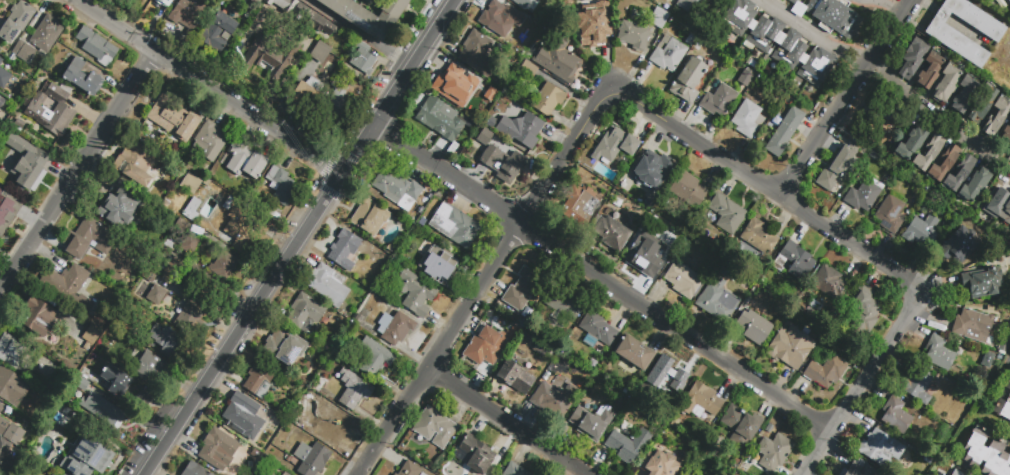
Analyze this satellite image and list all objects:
building: (513, 0)
building: (257, 1)
building: (163, 2)
building: (368, 2)
building: (793, 2)
building: (1008, 2)
building: (283, 4)
building: (668, 5)
road: (889, 5)
building: (694, 7)
building: (187, 13)
building: (302, 14)
building: (367, 15)
building: (833, 16)
building: (501, 18)
building: (659, 18)
building: (17, 23)
building: (323, 25)
road: (431, 29)
building: (592, 31)
building: (217, 32)
road: (356, 33)
road: (818, 34)
building: (633, 35)
building: (948, 38)
building: (777, 41)
building: (38, 43)
building: (97, 49)
building: (475, 50)
building: (320, 52)
building: (668, 54)
building: (266, 58)
building: (362, 58)
building: (557, 58)
building: (912, 58)
building: (0, 60)
building: (752, 63)
building: (1, 64)
building: (526, 71)
building: (928, 71)
building: (745, 78)
building: (689, 79)
building: (4, 80)
building: (83, 80)
building: (944, 84)
road: (209, 85)
building: (459, 87)
road: (392, 88)
building: (963, 94)
building: (307, 95)
building: (548, 99)
building: (0, 100)
building: (718, 100)
road: (850, 100)
building: (337, 103)
building: (981, 105)
road: (936, 109)
building: (53, 111)
building: (873, 112)
building: (1009, 115)
building: (996, 116)
building: (746, 119)
building: (175, 121)
building: (440, 121)
building: (20, 125)
building: (521, 130)
building: (784, 132)
building: (552, 133)
building: (1006, 134)
building: (211, 143)
building: (616, 144)
building: (910, 144)
building: (873, 153)
building: (928, 154)
building: (139, 159)
building: (247, 162)
building: (943, 163)
building: (501, 164)
building: (27, 165)
building: (652, 167)
building: (835, 168)
road: (78, 169)
building: (959, 174)
road: (1008, 183)
building: (280, 185)
building: (190, 186)
building: (974, 186)
building: (395, 187)
building: (150, 188)
building: (688, 189)
road: (768, 189)
building: (863, 195)
building: (578, 204)
building: (998, 204)
building: (7, 209)
building: (119, 209)
building: (607, 211)
building: (193, 212)
building: (727, 213)
building: (889, 214)
building: (371, 219)
building: (245, 227)
building: (456, 228)
building: (921, 231)
building: (611, 233)
building: (758, 236)
building: (92, 239)
building: (959, 245)
building: (190, 246)
building: (169, 249)
building: (346, 252)
building: (644, 256)
building: (793, 260)
building: (439, 266)
building: (225, 268)
building: (171, 274)
road: (482, 279)
building: (683, 280)
road: (599, 281)
building: (830, 282)
building: (983, 282)
building: (328, 287)
building: (521, 289)
building: (67, 291)
building: (206, 294)
building: (416, 295)
road: (260, 296)
building: (157, 297)
building: (716, 300)
building: (561, 305)
building: (815, 305)
building: (989, 308)
building: (808, 310)
building: (864, 311)
building: (306, 313)
building: (166, 314)
building: (38, 319)
building: (190, 321)
building: (384, 323)
building: (973, 326)
building: (753, 327)
building: (936, 327)
building: (598, 328)
building: (399, 331)
building: (93, 337)
building: (162, 342)
building: (482, 347)
building: (791, 347)
building: (285, 348)
building: (633, 352)
building: (938, 353)
building: (13, 355)
building: (375, 359)
building: (147, 367)
building: (825, 371)
building: (669, 372)
building: (515, 377)
building: (945, 377)
building: (261, 380)
building: (117, 382)
road: (862, 383)
building: (935, 383)
building: (1007, 383)
building: (917, 385)
building: (12, 389)
building: (355, 391)
building: (553, 398)
building: (145, 399)
building: (701, 399)
building: (1, 405)
building: (1002, 407)
building: (1, 409)
building: (101, 410)
building: (242, 415)
building: (895, 416)
building: (592, 422)
road: (506, 423)
building: (739, 425)
building: (335, 428)
building: (436, 430)
building: (10, 434)
building: (627, 445)
building: (880, 448)
building: (4, 450)
building: (215, 450)
building: (774, 451)
building: (986, 454)
building: (87, 456)
building: (477, 456)
building: (926, 458)
building: (313, 460)
building: (661, 464)
building: (745, 468)
building: (410, 469)
building: (859, 469)
building: (192, 470)
building: (514, 470)
road: (572, 471)
building: (283, 473)
building: (957, 473)
building: (267, 474)
building: (396, 474)
building: (422, 474)
building: (685, 474)

